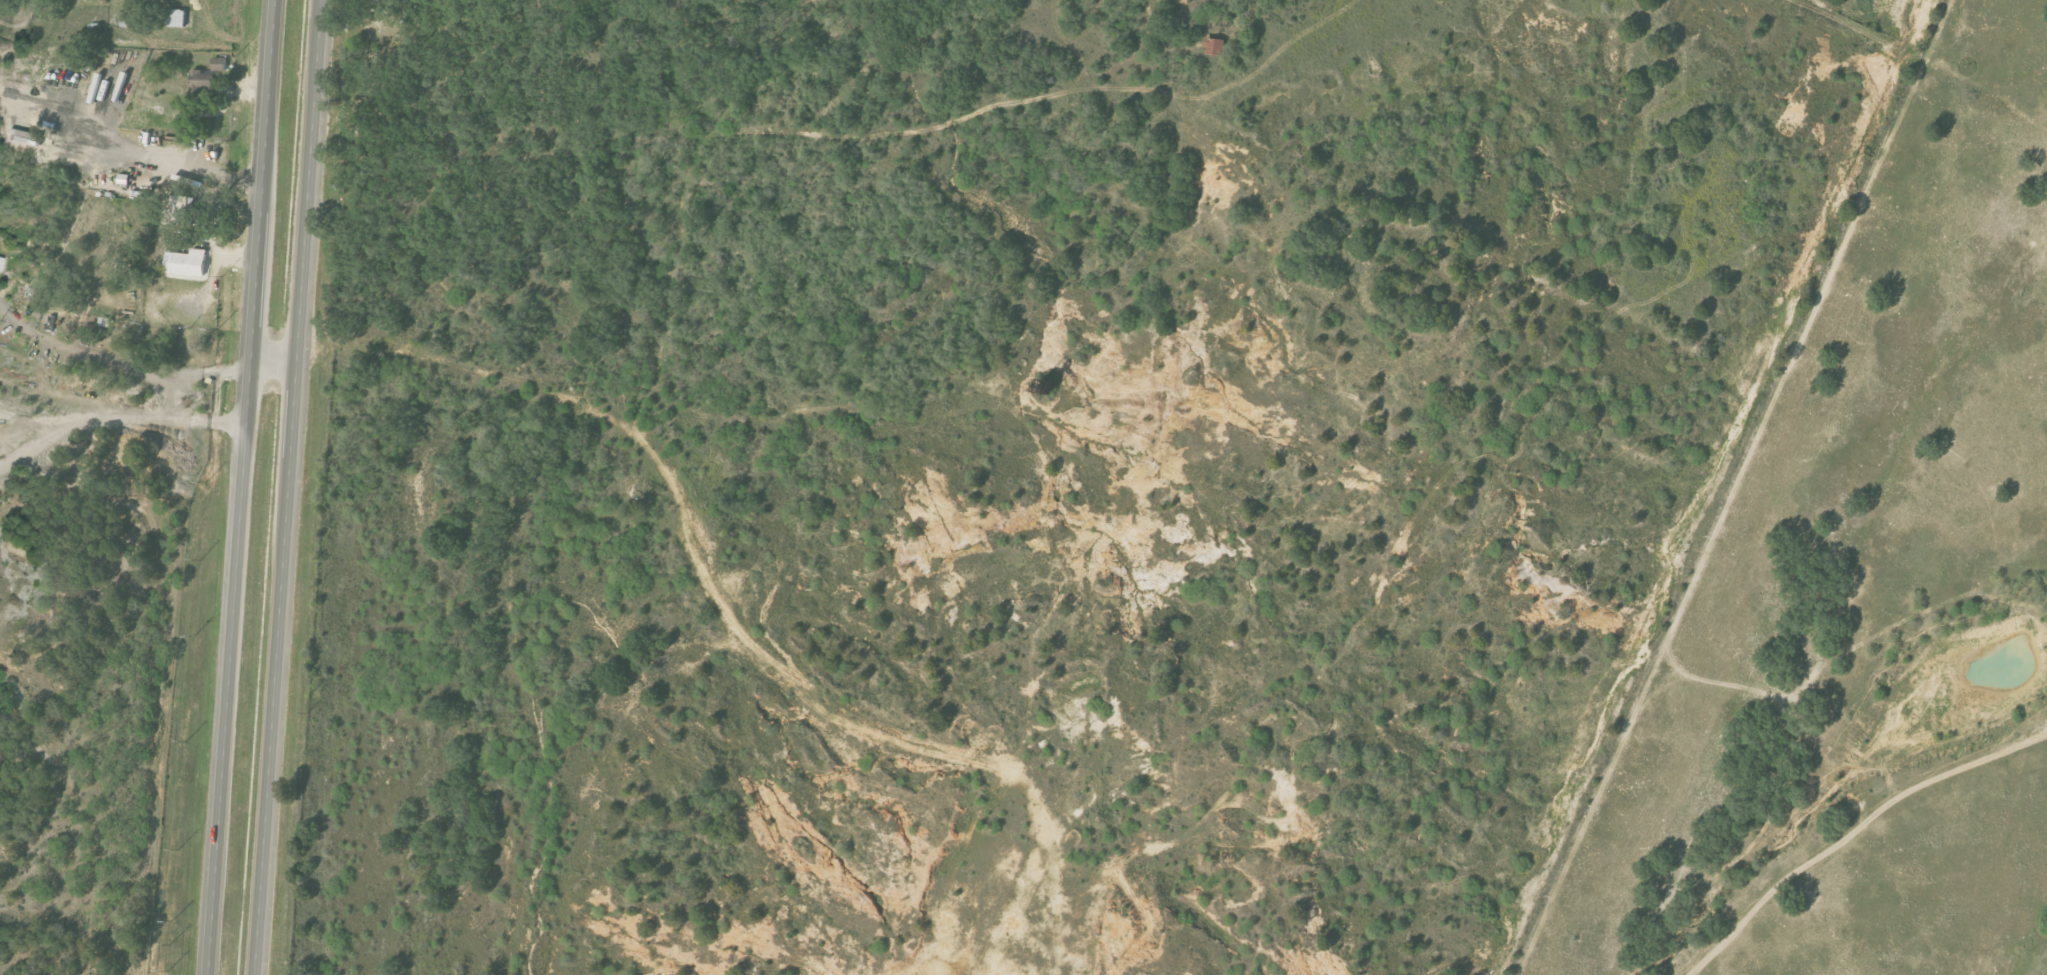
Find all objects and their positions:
building: (177, 17)
building: (1215, 46)
building: (219, 63)
building: (202, 81)
building: (0, 259)
building: (187, 262)
building: (32, 295)
road: (120, 366)
road: (278, 366)
road: (119, 426)
road: (244, 487)
road: (296, 487)

